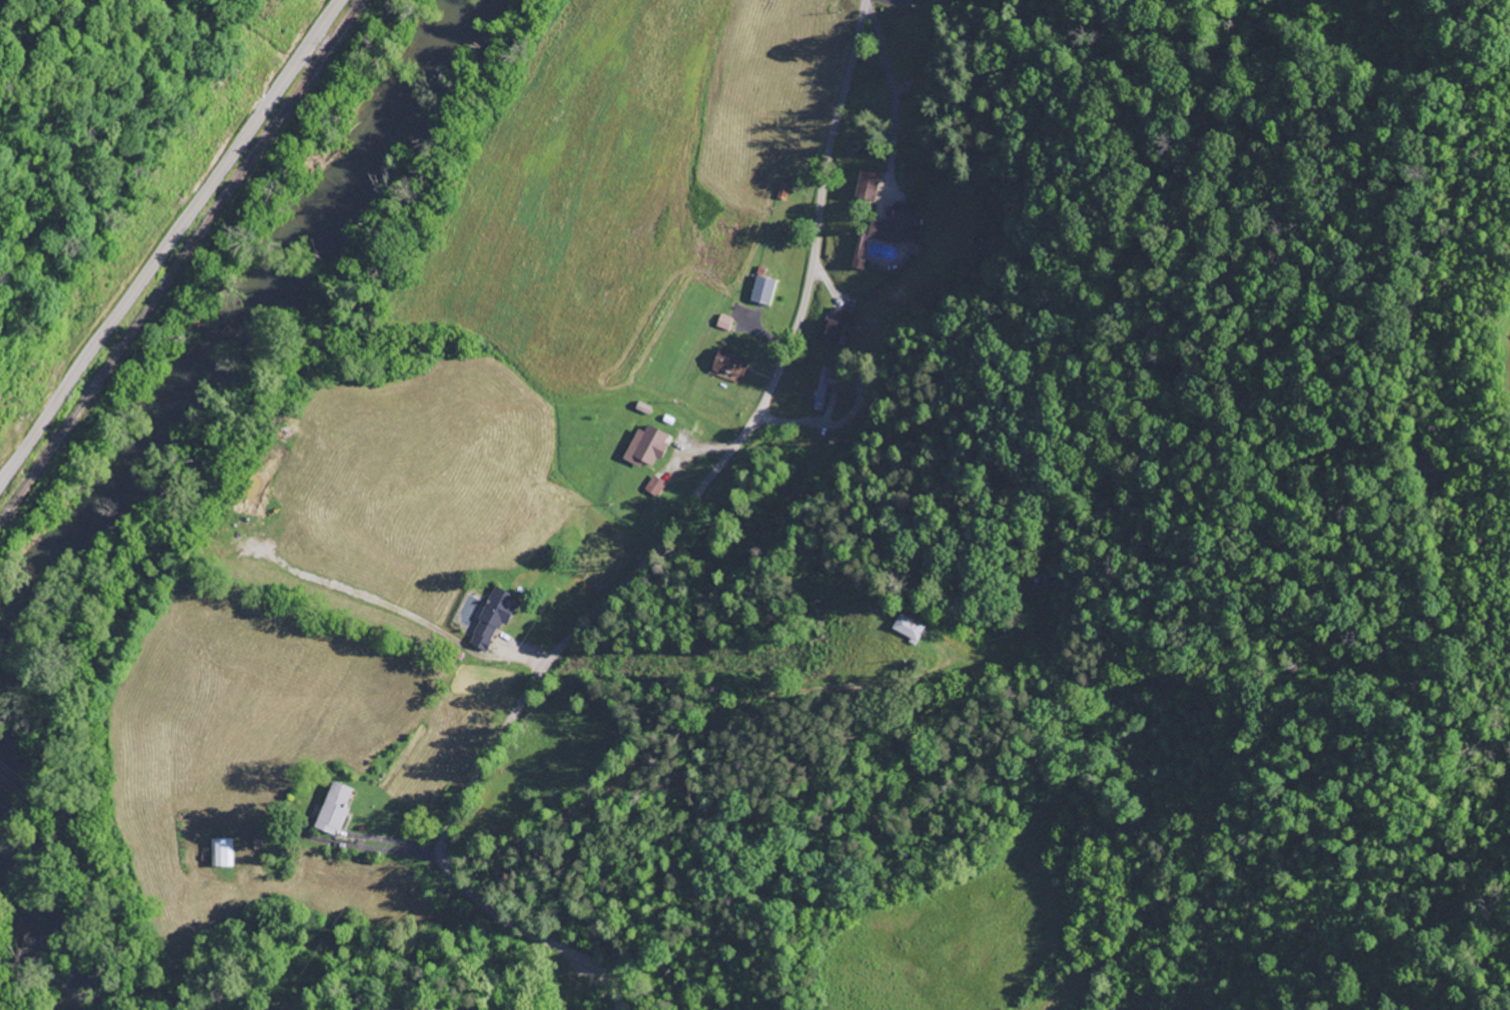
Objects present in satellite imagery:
building: (869, 185)
building: (784, 193)
building: (897, 228)
road: (168, 241)
building: (861, 253)
railway: (180, 260)
building: (764, 291)
building: (837, 327)
river: (227, 343)
building: (732, 365)
building: (823, 391)
building: (647, 449)
building: (656, 488)
road: (648, 554)
road: (600, 570)
building: (494, 619)
building: (910, 630)
road: (682, 728)
building: (335, 810)
building: (223, 855)
river: (20, 924)

